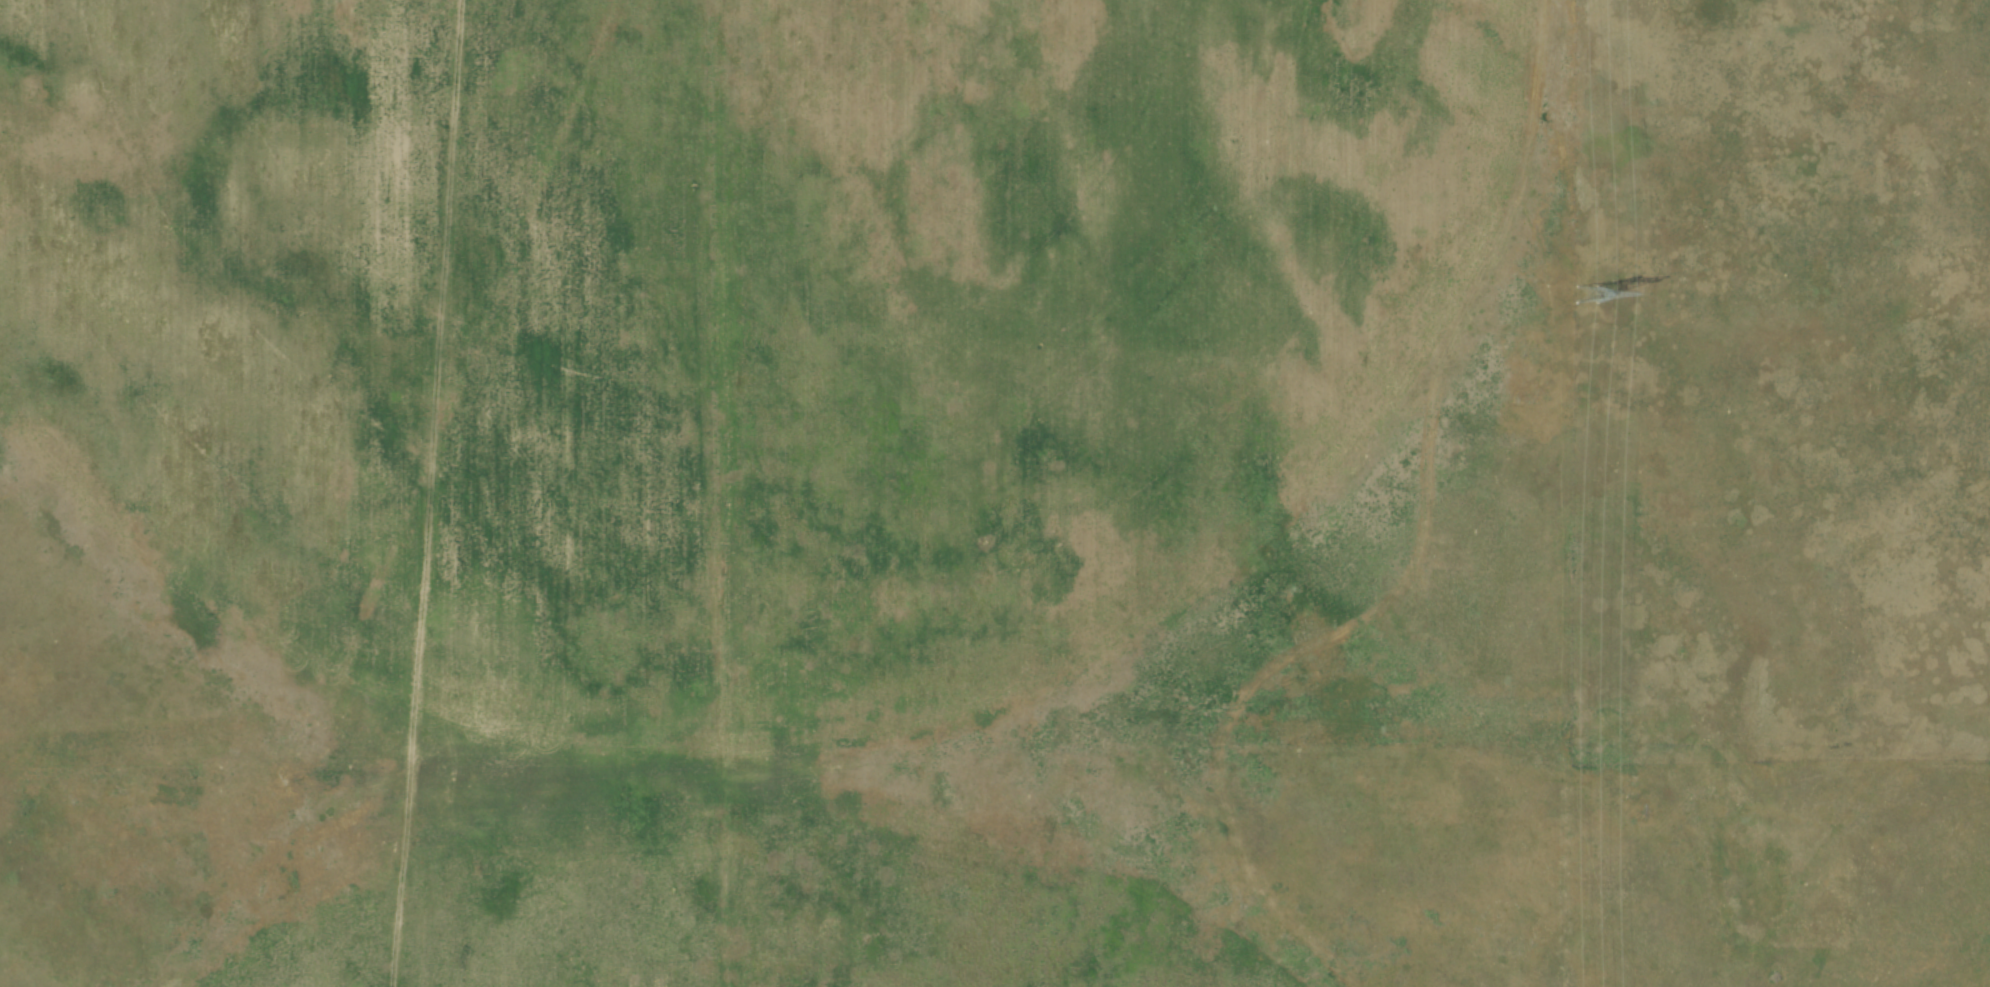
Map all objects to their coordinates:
power tower: (1587, 293)

